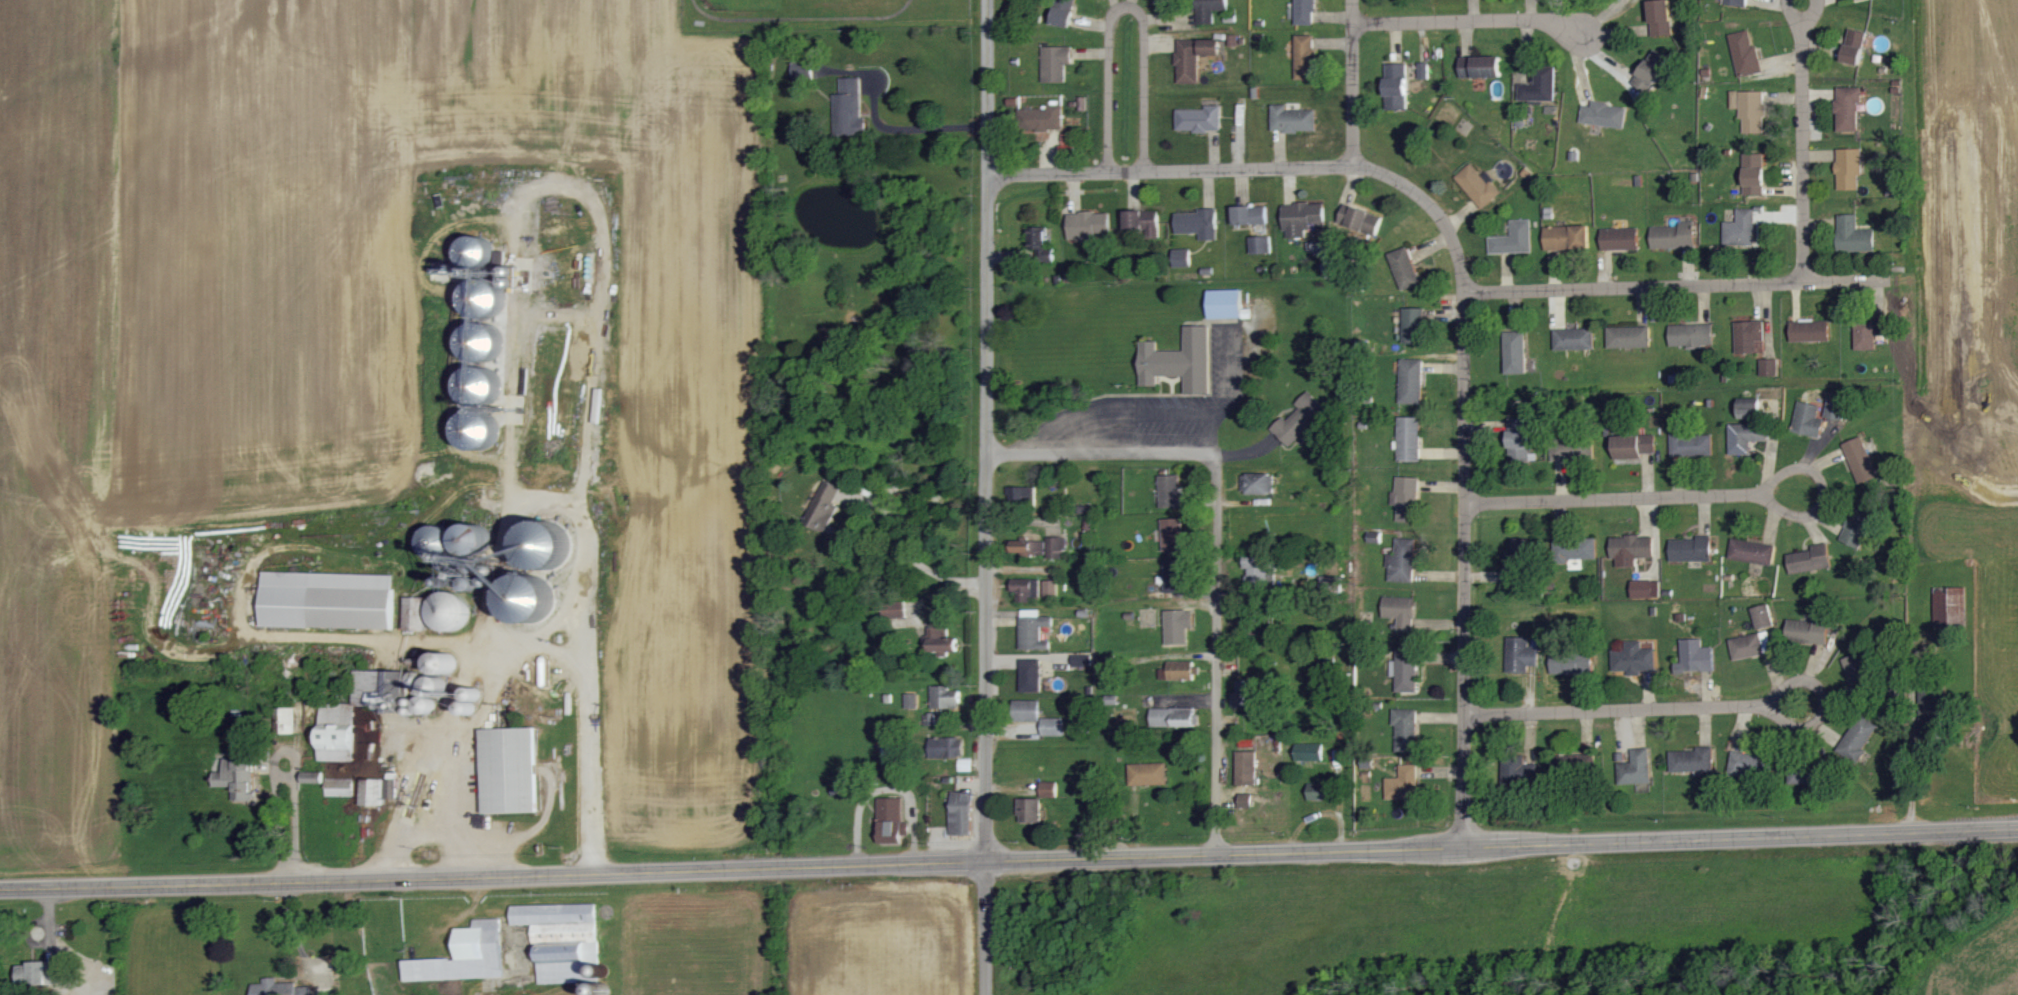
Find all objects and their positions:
road: (1126, 3)
building: (1736, 3)
park: (828, 10)
building: (1209, 10)
building: (1305, 12)
road: (1792, 12)
road: (1812, 12)
building: (1064, 13)
building: (1661, 18)
road: (1515, 20)
building: (1855, 47)
building: (1745, 53)
building: (1193, 57)
building: (1305, 57)
building: (1055, 63)
building: (1481, 67)
building: (1654, 69)
building: (1423, 71)
road: (1354, 82)
building: (1540, 86)
building: (1396, 87)
building: (849, 108)
building: (1849, 108)
building: (1751, 110)
building: (1605, 115)
building: (1042, 119)
building: (1200, 120)
building: (1293, 120)
road: (925, 126)
road: (1803, 150)
building: (1849, 169)
building: (1755, 174)
road: (562, 185)
building: (1478, 186)
building: (1250, 216)
building: (1303, 219)
building: (1362, 221)
building: (1142, 223)
building: (1199, 224)
building: (1088, 225)
building: (1741, 229)
building: (1674, 236)
building: (1854, 236)
building: (1566, 238)
building: (1514, 239)
building: (1620, 239)
building: (1038, 245)
building: (1261, 245)
building: (1182, 258)
building: (1405, 268)
road: (1680, 284)
road: (1465, 292)
building: (1227, 305)
road: (559, 315)
building: (1414, 326)
building: (1810, 331)
building: (1868, 334)
building: (1748, 335)
building: (1692, 336)
building: (1629, 338)
building: (477, 339)
building: (1575, 339)
building: (1515, 353)
building: (1180, 362)
building: (1769, 367)
building: (1411, 381)
building: (1835, 410)
building: (1747, 411)
road: (1167, 415)
building: (1299, 420)
building: (1808, 420)
road: (1212, 432)
building: (1746, 437)
building: (1409, 439)
building: (1519, 440)
building: (1692, 444)
building: (1634, 446)
building: (1567, 453)
building: (1860, 461)
building: (1258, 484)
building: (1170, 492)
road: (1701, 493)
road: (986, 497)
building: (1406, 497)
road: (541, 502)
building: (823, 506)
building: (1855, 531)
building: (1172, 535)
road: (1214, 540)
road: (915, 544)
building: (1028, 547)
building: (1056, 548)
building: (542, 549)
building: (1575, 549)
building: (1631, 550)
building: (1692, 550)
building: (1752, 552)
building: (1809, 560)
building: (1403, 562)
building: (1517, 562)
building: (1256, 568)
building: (1174, 576)
building: (1051, 588)
building: (1026, 589)
building: (1646, 590)
building: (327, 602)
building: (527, 602)
building: (897, 610)
building: (1401, 612)
building: (449, 613)
building: (414, 615)
building: (1763, 617)
building: (1177, 627)
building: (1033, 630)
building: (1809, 631)
road: (437, 637)
building: (941, 641)
building: (1747, 647)
building: (1521, 656)
building: (1697, 657)
building: (1634, 658)
building: (1081, 661)
building: (1568, 665)
building: (442, 666)
building: (1858, 670)
building: (1182, 671)
building: (1405, 671)
building: (1030, 676)
building: (378, 688)
building: (1248, 695)
building: (428, 697)
building: (944, 699)
building: (911, 702)
road: (1702, 704)
road: (592, 710)
building: (1026, 711)
building: (1170, 717)
building: (929, 720)
building: (283, 722)
building: (1052, 728)
building: (1406, 730)
building: (336, 735)
building: (1859, 739)
building: (946, 748)
building: (1310, 753)
building: (1693, 760)
building: (965, 765)
building: (1746, 765)
building: (1246, 769)
building: (1636, 769)
building: (509, 772)
building: (1801, 774)
building: (1148, 775)
building: (237, 777)
building: (312, 778)
building: (1404, 785)
building: (339, 788)
building: (390, 789)
building: (1048, 790)
building: (1320, 792)
building: (371, 793)
building: (1245, 801)
building: (1030, 811)
building: (961, 814)
road: (293, 820)
building: (890, 822)
road: (407, 837)
road: (1008, 857)
building: (561, 939)
building: (464, 956)
building: (38, 974)
building: (279, 988)

